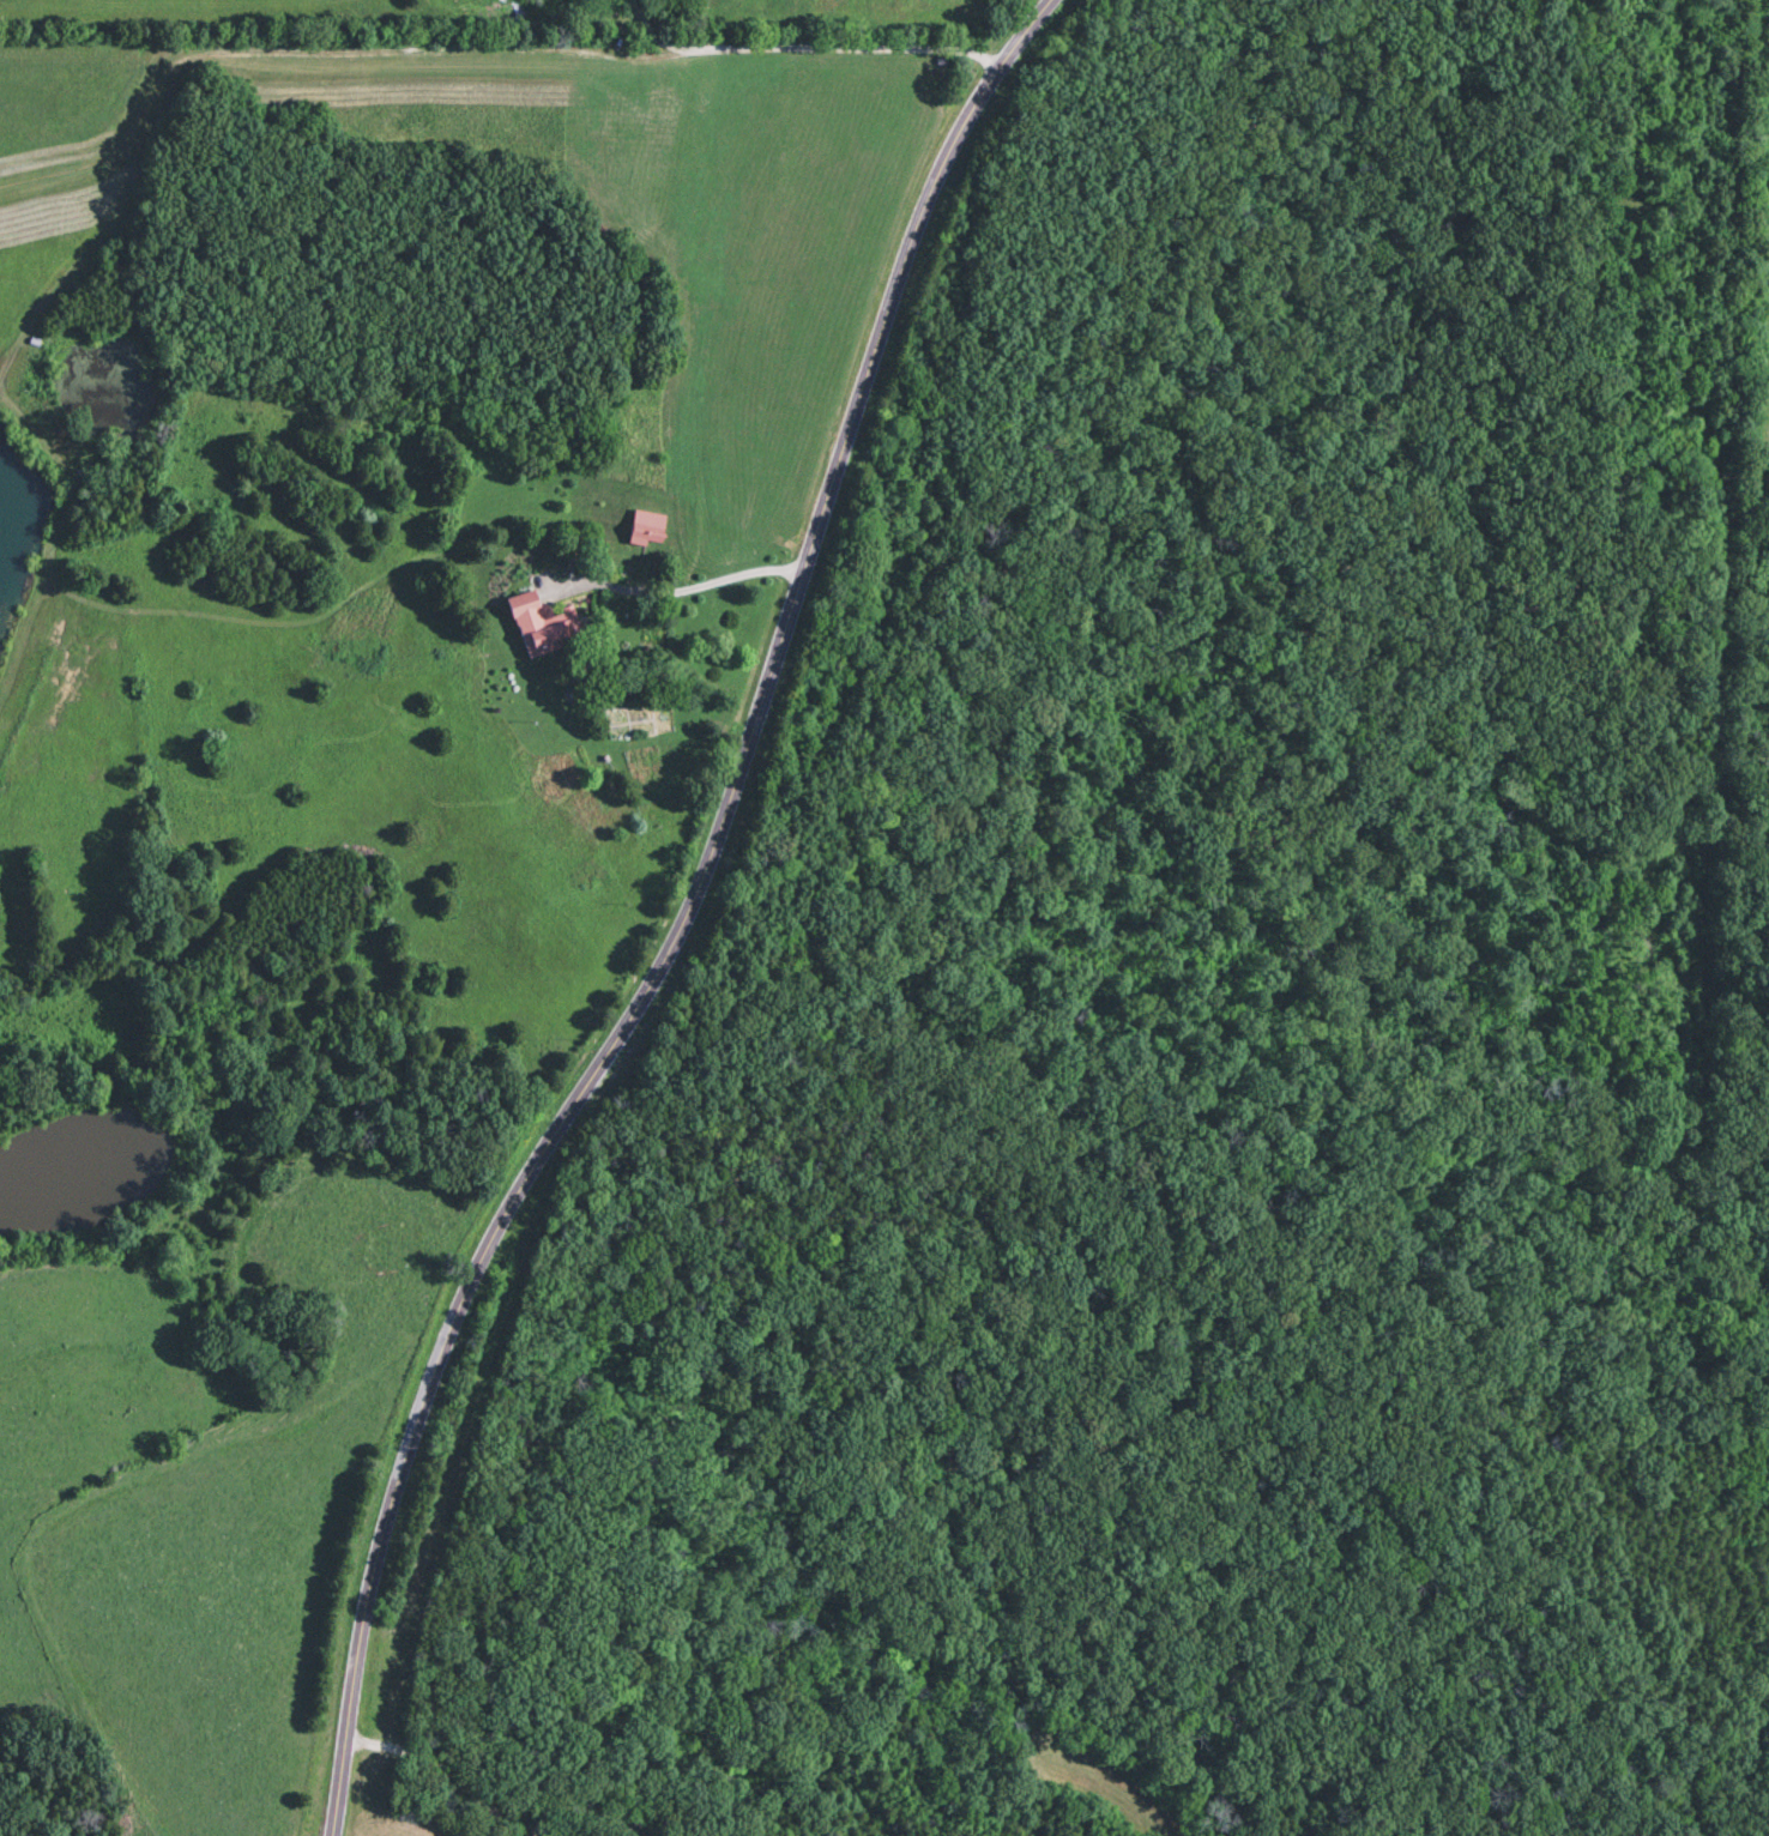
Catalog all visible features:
road: (801, 49)
building: (650, 530)
road: (677, 593)
building: (544, 627)
road: (681, 918)
road: (440, 1771)

